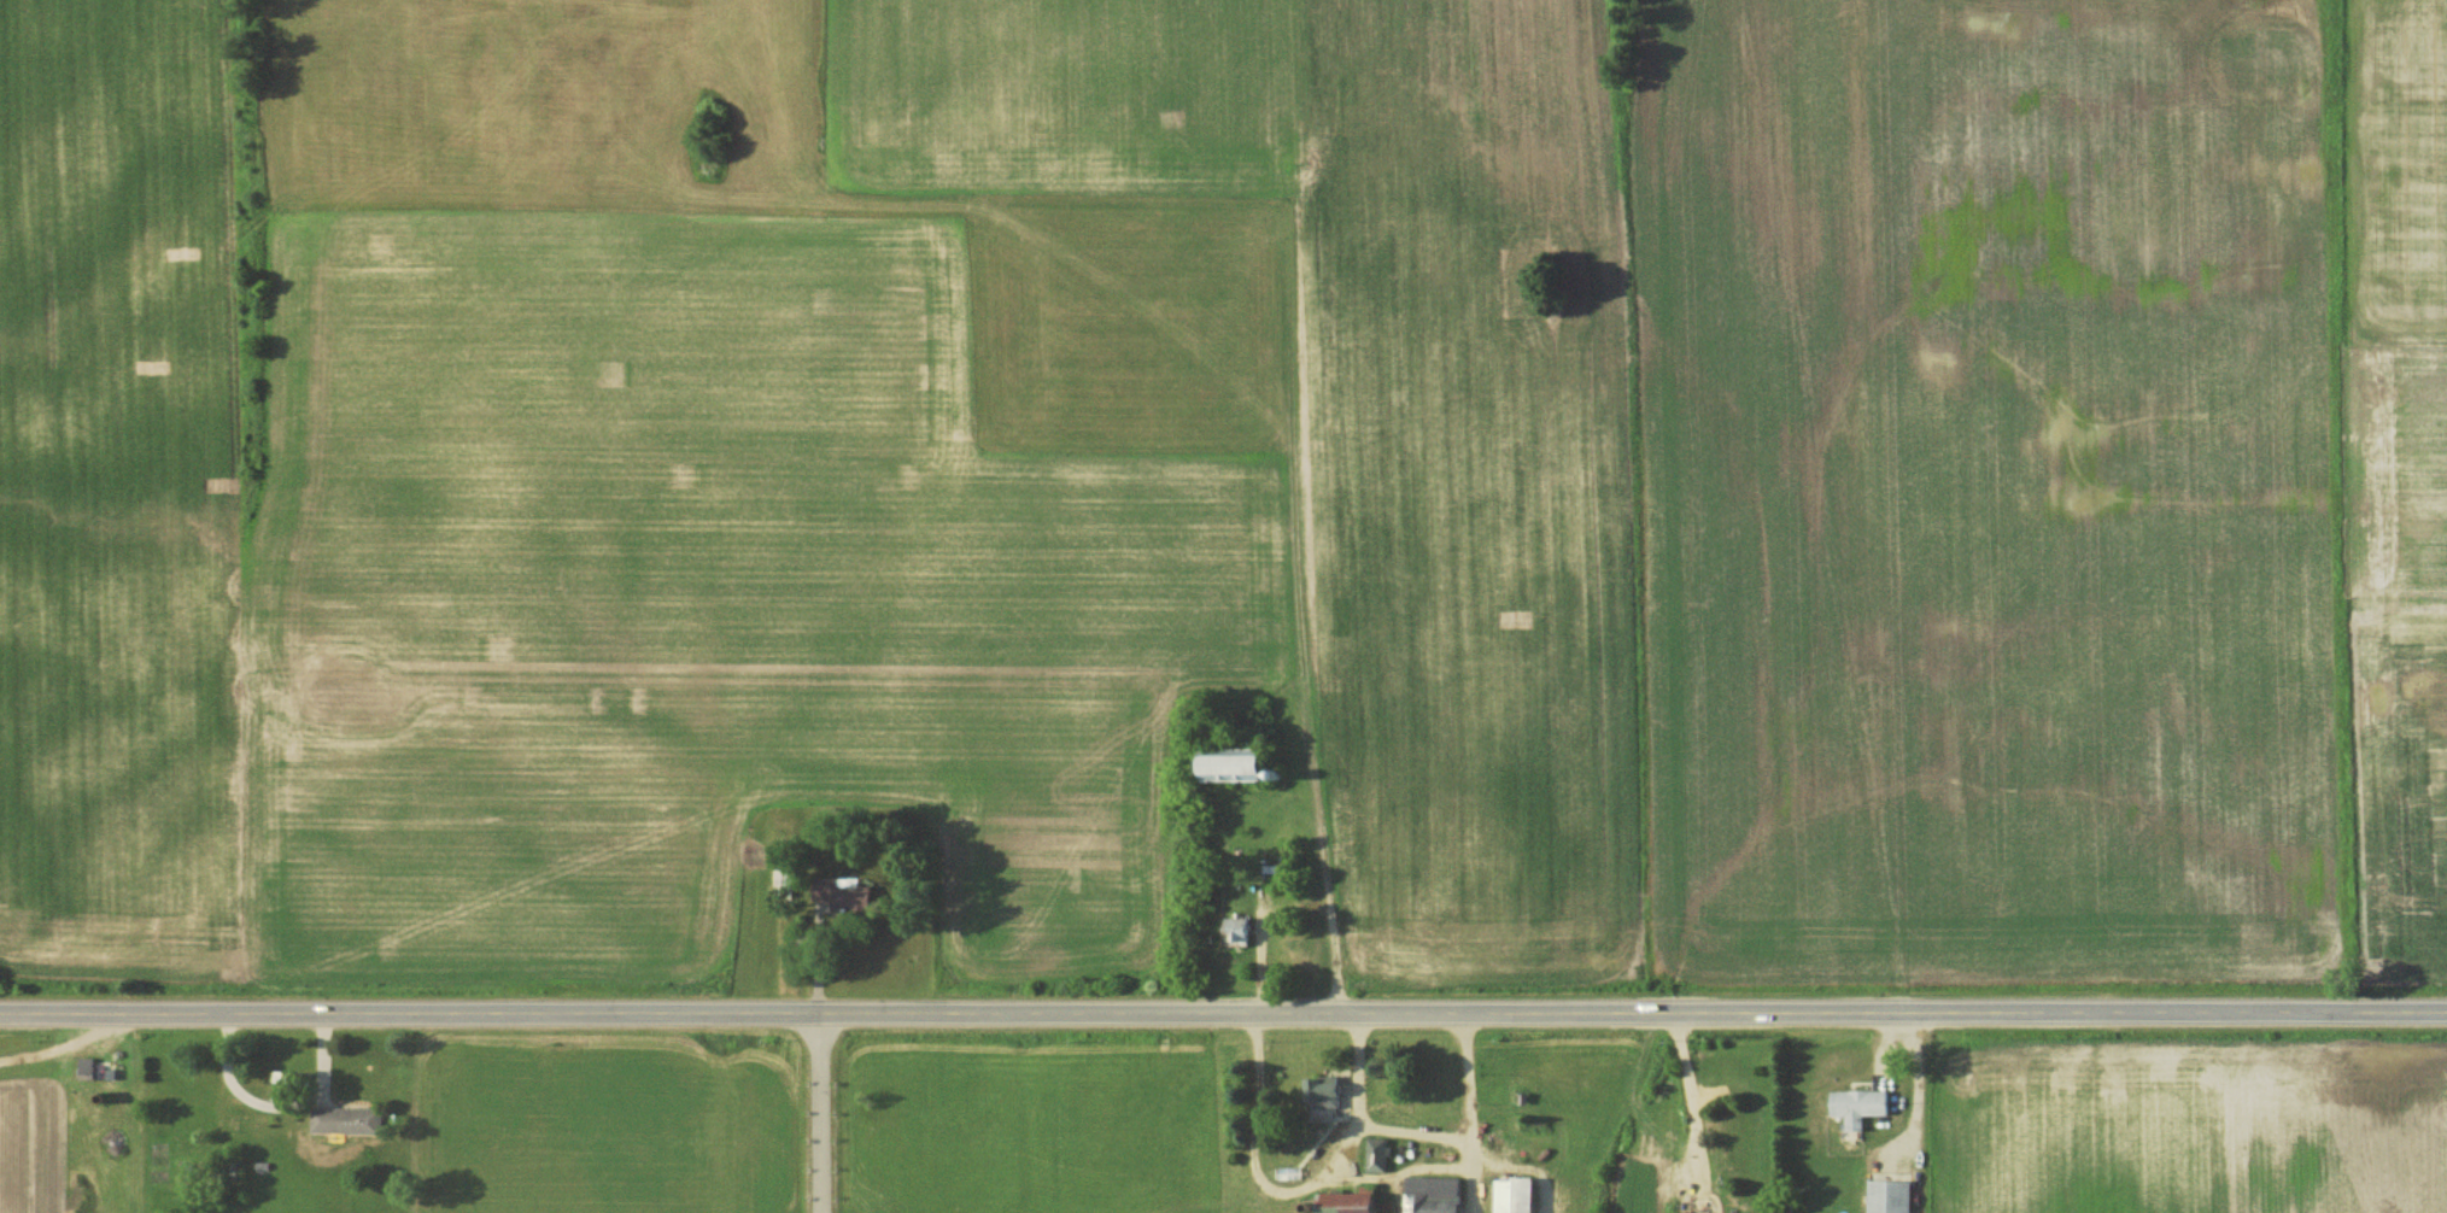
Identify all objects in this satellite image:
building: (1251, 766)
building: (855, 896)
road: (1223, 1010)
road: (1919, 1089)
building: (1328, 1094)
road: (1680, 1096)
building: (1864, 1106)
road: (283, 1107)
road: (1473, 1111)
road: (821, 1112)
building: (351, 1120)
road: (1418, 1129)
road: (1301, 1186)
building: (1439, 1194)
building: (1523, 1196)
building: (1893, 1196)
building: (1359, 1203)

